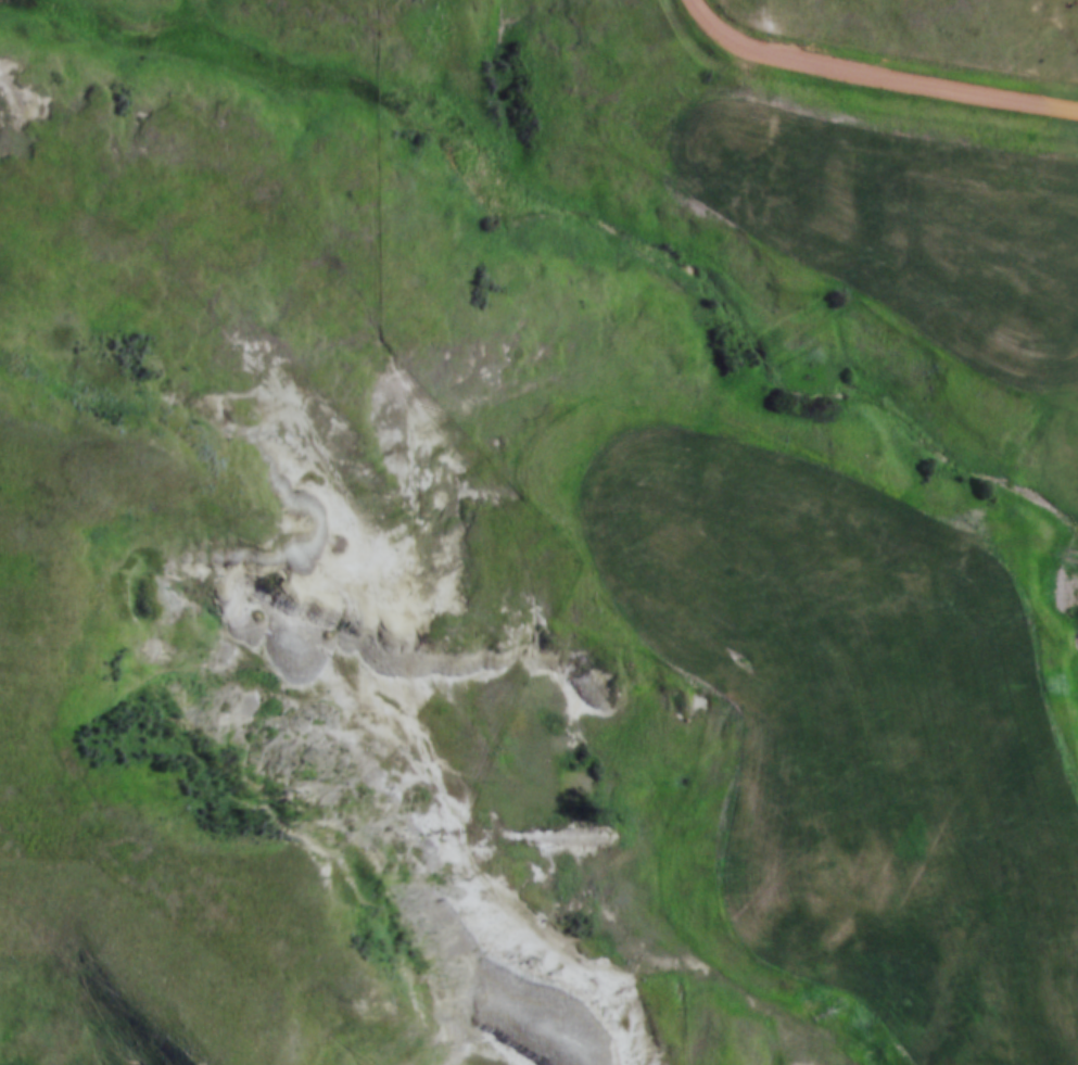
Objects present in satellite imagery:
road: (875, 74)

